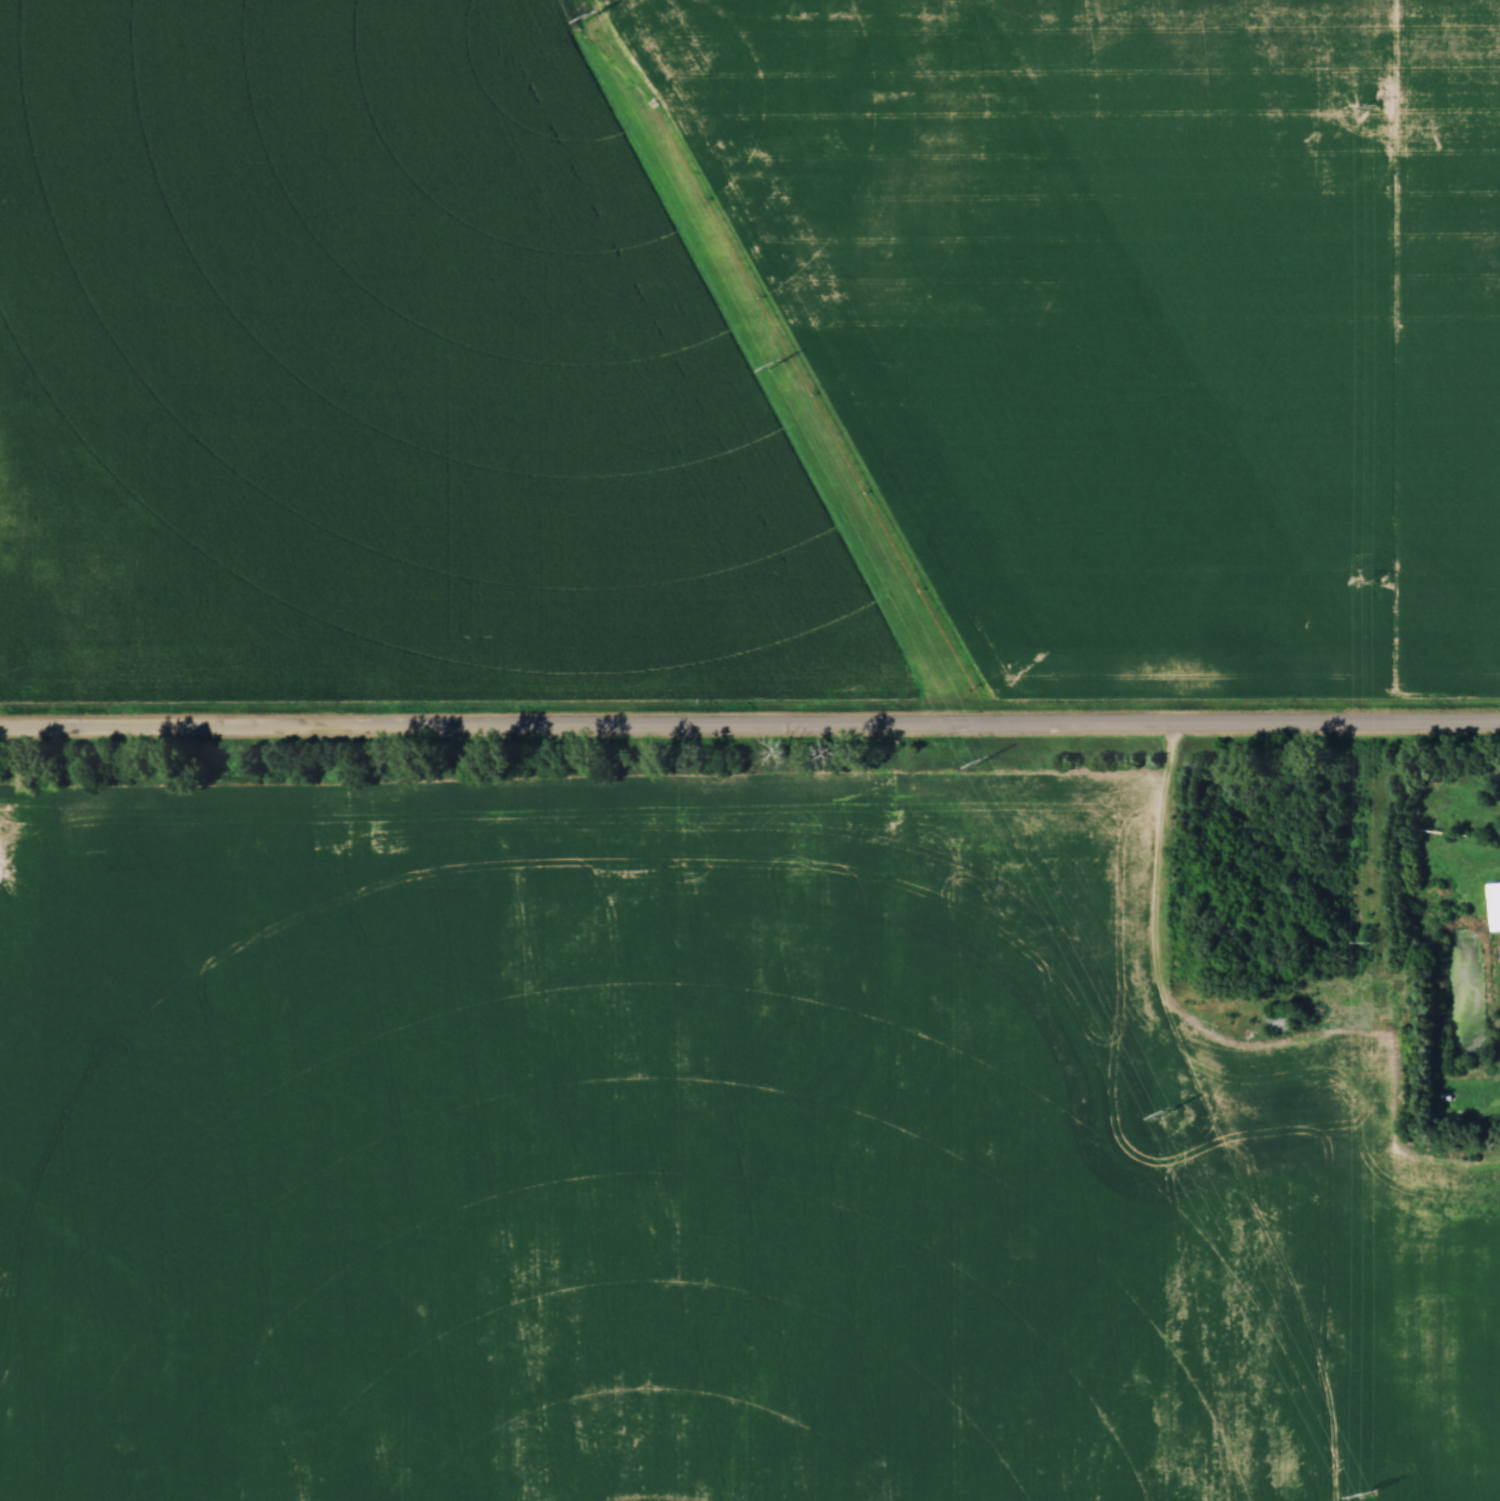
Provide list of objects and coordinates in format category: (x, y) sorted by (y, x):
power tower: (591, 18)
power tower: (1366, 109)
power tower: (773, 366)
power tower: (1365, 584)
road: (750, 728)
power tower: (983, 764)
building: (1495, 907)
power tower: (1368, 944)
building: (1279, 1022)
power tower: (1168, 1114)
power tower: (1365, 1495)

